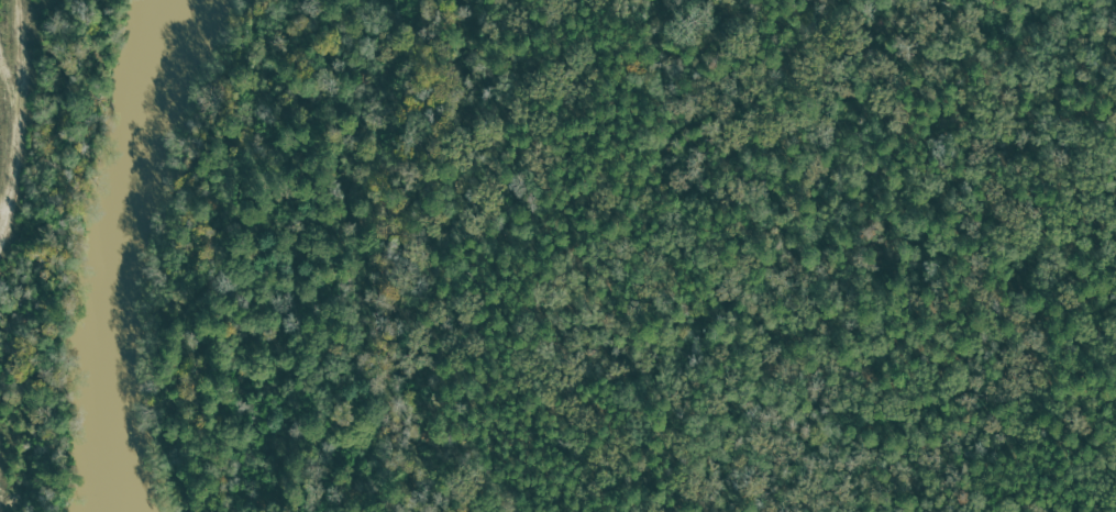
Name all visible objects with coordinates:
river: (109, 249)
road: (268, 258)

